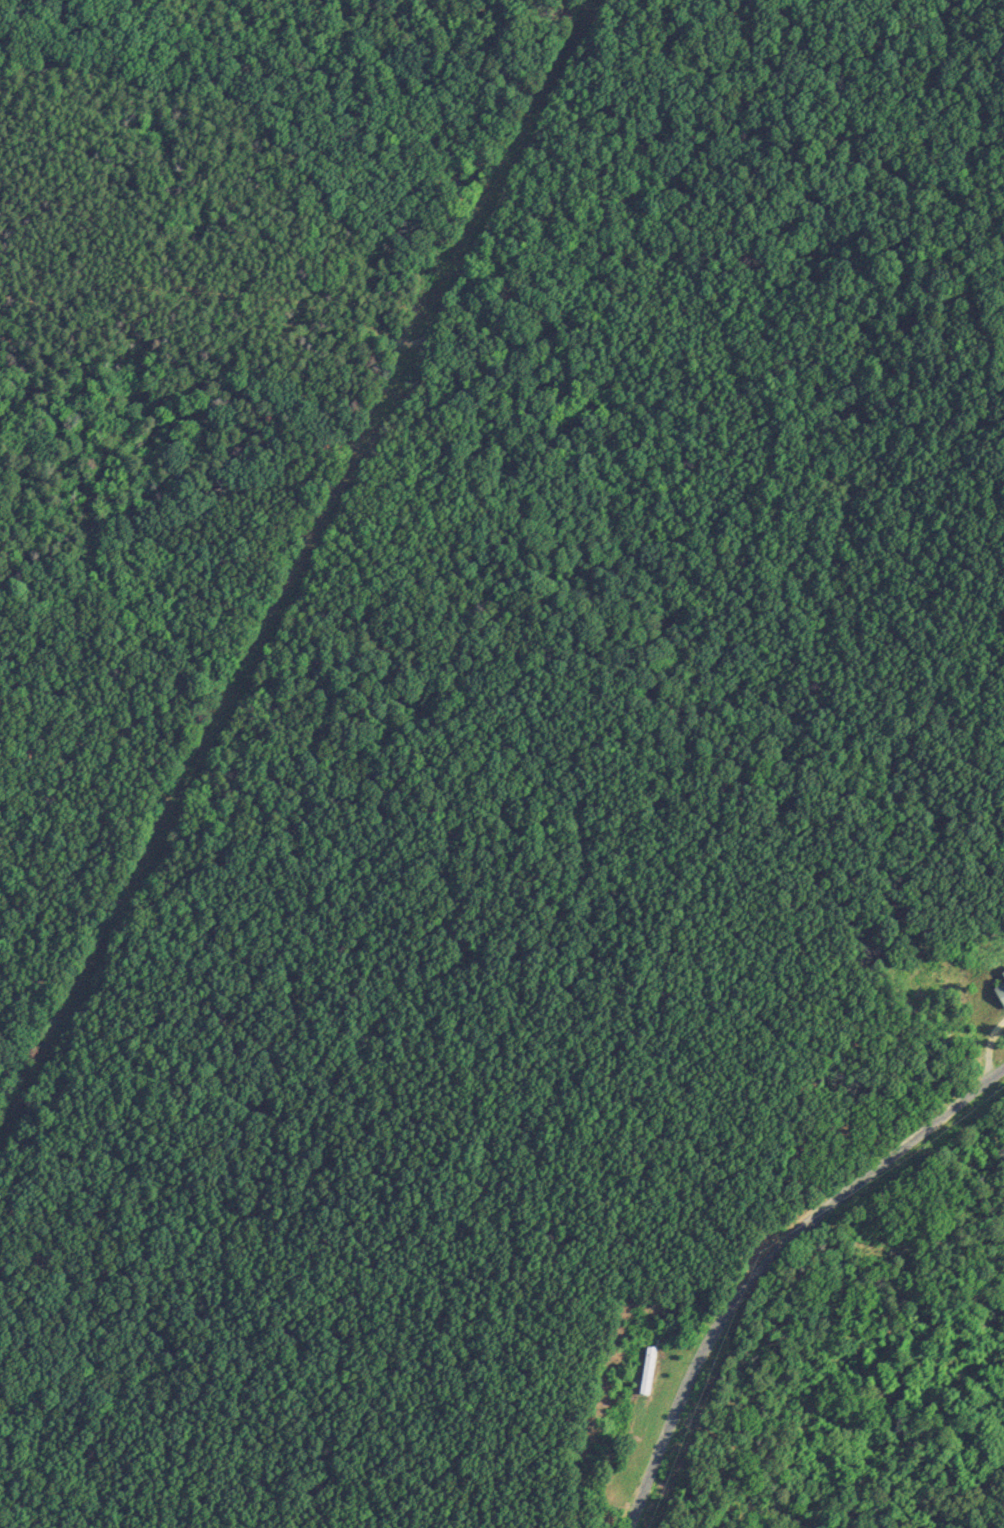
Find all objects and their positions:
building: (1001, 990)
road: (766, 1258)
building: (649, 1370)

